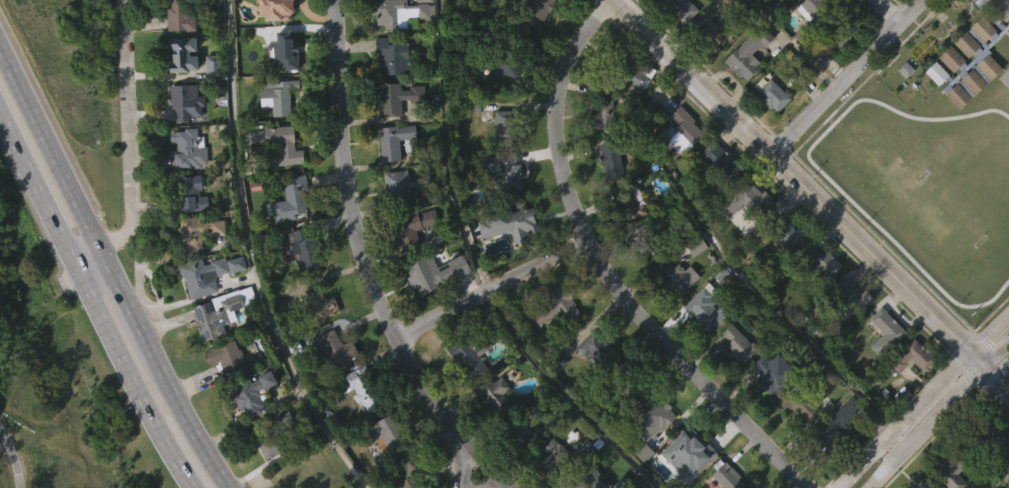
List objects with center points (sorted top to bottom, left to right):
building: (623, 0)
building: (726, 0)
building: (767, 2)
building: (503, 3)
building: (902, 6)
building: (733, 7)
building: (540, 8)
building: (276, 9)
building: (385, 9)
building: (683, 9)
building: (811, 9)
road: (888, 11)
building: (654, 12)
building: (790, 16)
building: (180, 17)
building: (484, 28)
building: (838, 30)
building: (423, 31)
building: (536, 31)
building: (714, 33)
building: (276, 38)
building: (810, 42)
building: (679, 44)
road: (790, 44)
building: (287, 50)
building: (746, 52)
building: (182, 55)
building: (392, 55)
building: (500, 58)
building: (987, 63)
building: (710, 70)
building: (841, 70)
building: (624, 74)
road: (846, 78)
building: (746, 91)
building: (280, 94)
building: (771, 95)
building: (394, 97)
building: (472, 100)
building: (186, 102)
building: (210, 102)
building: (502, 104)
building: (986, 104)
building: (633, 110)
building: (934, 110)
building: (605, 114)
building: (971, 119)
building: (503, 122)
building: (770, 131)
building: (683, 132)
road: (129, 134)
building: (394, 141)
building: (472, 141)
building: (282, 146)
building: (188, 148)
road: (49, 150)
building: (609, 158)
building: (721, 160)
building: (680, 168)
building: (502, 172)
building: (281, 183)
building: (401, 186)
building: (192, 195)
building: (610, 196)
building: (718, 196)
road: (810, 197)
building: (742, 199)
building: (291, 201)
building: (628, 202)
building: (502, 208)
building: (505, 222)
building: (409, 227)
building: (201, 232)
building: (785, 233)
building: (743, 237)
building: (289, 238)
building: (628, 240)
building: (641, 240)
building: (307, 249)
road: (363, 254)
road: (87, 256)
park: (60, 258)
building: (508, 261)
building: (820, 261)
building: (410, 264)
road: (137, 269)
road: (603, 271)
building: (787, 271)
building: (427, 272)
building: (206, 275)
building: (678, 278)
building: (302, 282)
building: (694, 283)
road: (489, 288)
building: (819, 297)
building: (853, 297)
road: (95, 302)
road: (127, 302)
building: (319, 302)
building: (553, 306)
building: (704, 307)
building: (432, 309)
building: (200, 313)
building: (225, 314)
building: (675, 314)
building: (886, 325)
building: (850, 331)
building: (319, 340)
building: (736, 343)
building: (552, 345)
building: (705, 345)
building: (596, 346)
building: (337, 348)
building: (469, 348)
building: (218, 349)
building: (909, 357)
building: (231, 359)
building: (883, 368)
building: (773, 372)
building: (625, 377)
building: (736, 381)
building: (590, 384)
building: (366, 385)
building: (334, 386)
building: (224, 393)
building: (251, 393)
building: (492, 393)
building: (910, 394)
building: (467, 395)
building: (829, 399)
building: (798, 403)
road: (927, 403)
building: (770, 408)
building: (657, 412)
road: (938, 414)
road: (187, 424)
building: (359, 425)
building: (829, 427)
building: (525, 429)
building: (251, 431)
building: (494, 432)
building: (384, 433)
building: (268, 437)
building: (985, 440)
building: (797, 441)
building: (653, 453)
building: (686, 454)
road: (12, 459)
building: (835, 459)
building: (554, 461)
building: (525, 467)
building: (385, 468)
building: (950, 468)
building: (264, 474)
building: (294, 474)
building: (413, 474)
building: (991, 474)
building: (724, 475)
road: (1000, 478)
building: (685, 479)
building: (550, 483)
building: (584, 483)
building: (924, 483)
building: (338, 487)
building: (1007, 487)

